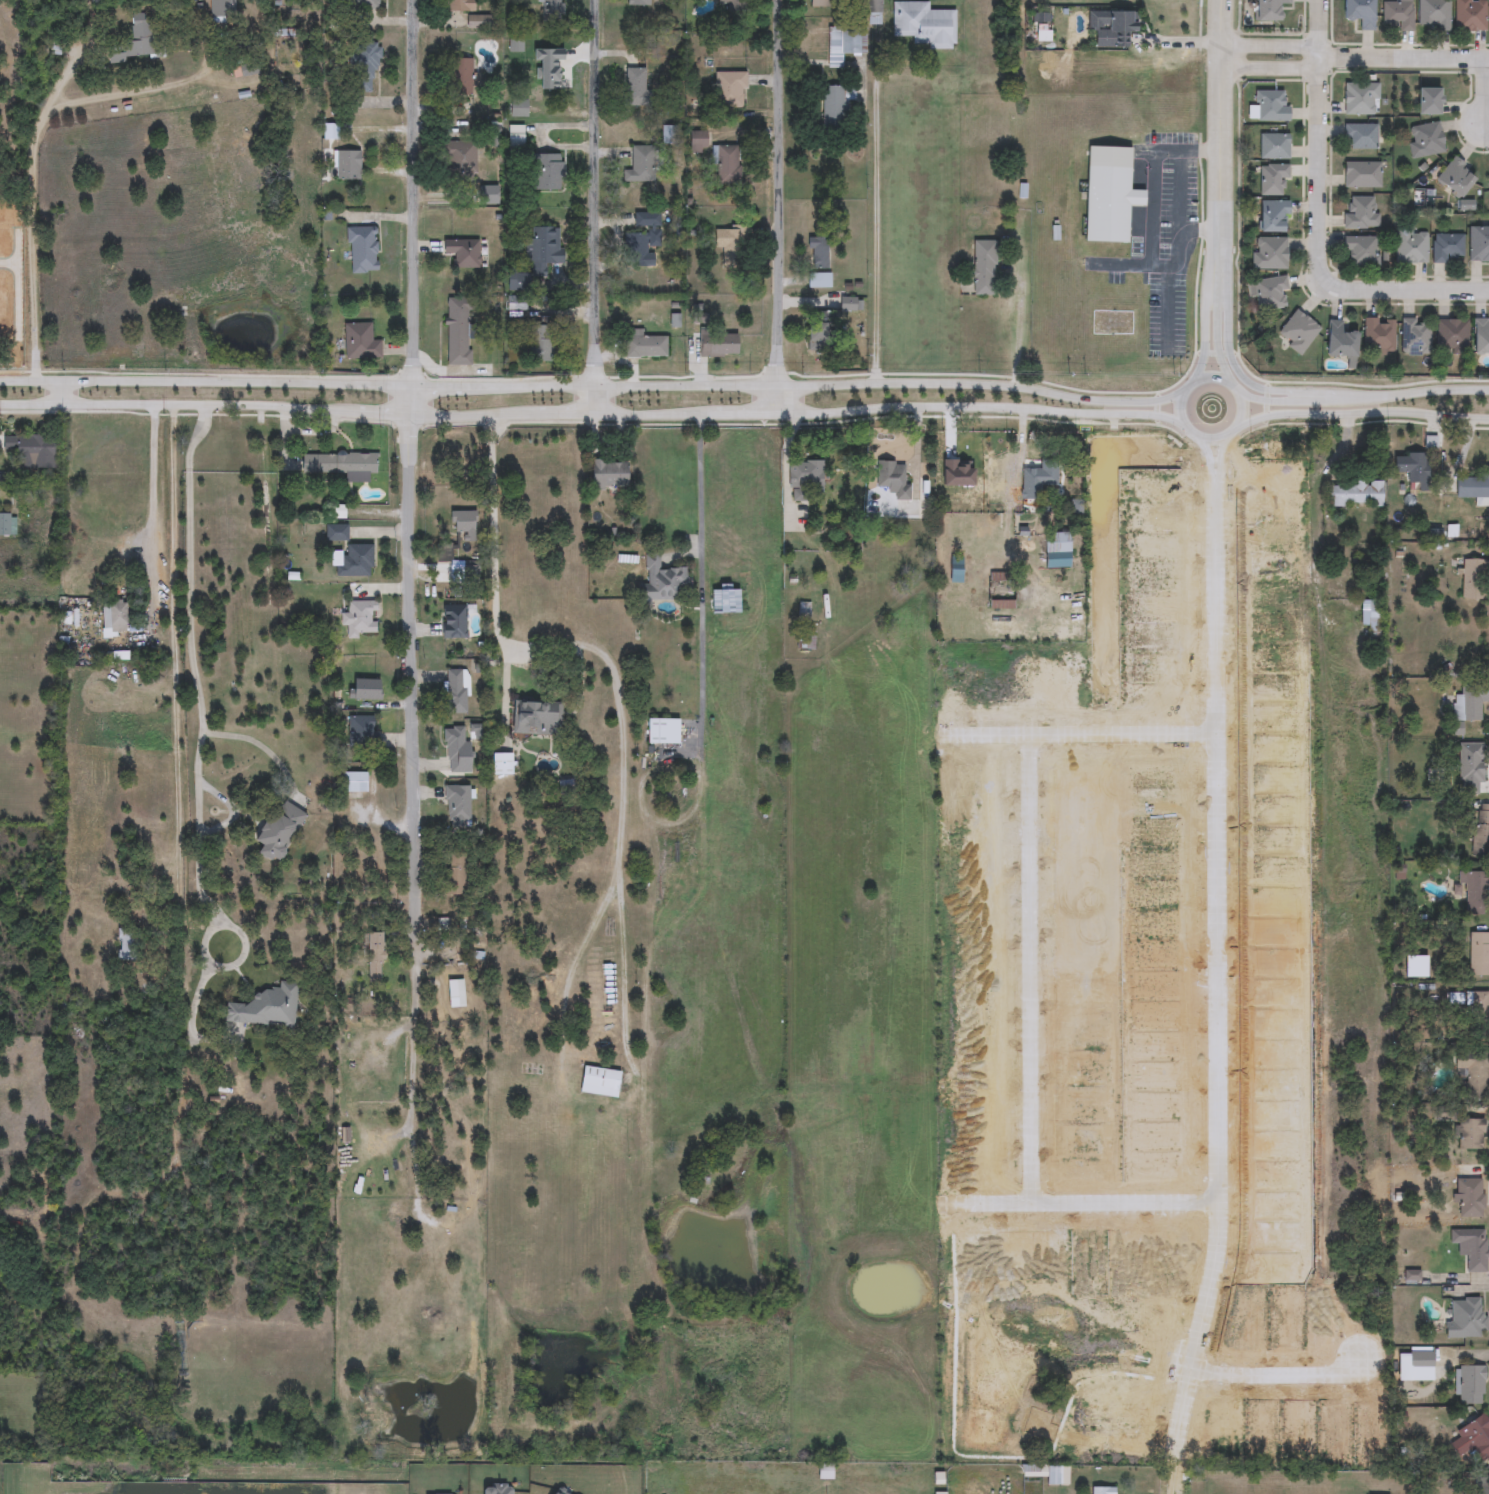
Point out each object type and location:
building: (636, 2)
building: (820, 3)
building: (362, 4)
building: (458, 5)
building: (736, 5)
building: (873, 5)
building: (1266, 9)
building: (549, 10)
building: (221, 11)
building: (1358, 12)
building: (1397, 13)
building: (1432, 14)
building: (1469, 14)
building: (477, 22)
building: (922, 24)
building: (1116, 29)
road: (1326, 30)
building: (846, 38)
building: (140, 40)
building: (245, 46)
road: (1353, 60)
building: (362, 66)
building: (247, 69)
building: (536, 71)
building: (460, 76)
building: (635, 86)
road: (143, 90)
building: (729, 90)
building: (1359, 98)
building: (1427, 100)
building: (1270, 105)
building: (517, 108)
building: (832, 109)
building: (1359, 136)
building: (515, 138)
building: (1424, 138)
building: (696, 142)
road: (1218, 144)
building: (1273, 145)
building: (459, 157)
building: (640, 164)
building: (728, 164)
building: (346, 165)
building: (548, 172)
building: (1361, 173)
building: (1454, 175)
building: (1487, 175)
road: (1150, 178)
building: (1272, 178)
building: (1108, 193)
road: (595, 206)
road: (413, 207)
road: (779, 207)
road: (875, 209)
road: (36, 210)
building: (1358, 211)
building: (1271, 215)
building: (642, 236)
building: (1478, 243)
building: (1410, 244)
building: (728, 245)
building: (1446, 246)
building: (362, 249)
building: (541, 249)
building: (1359, 250)
building: (461, 251)
building: (817, 252)
building: (1269, 252)
road: (1321, 259)
building: (983, 267)
road: (1163, 267)
building: (818, 280)
building: (1267, 292)
road: (1018, 321)
building: (457, 330)
building: (817, 331)
building: (1296, 331)
building: (1377, 335)
building: (1414, 335)
road: (1206, 336)
building: (1450, 336)
building: (1480, 336)
road: (1217, 339)
building: (1339, 340)
building: (359, 341)
building: (539, 342)
building: (718, 344)
building: (642, 345)
road: (1233, 364)
road: (592, 386)
road: (58, 392)
road: (1395, 396)
road: (1179, 399)
road: (1269, 400)
road: (1359, 413)
road: (592, 414)
building: (35, 448)
road: (915, 455)
road: (1219, 463)
road: (1211, 464)
building: (341, 465)
building: (1412, 468)
building: (610, 474)
building: (805, 479)
building: (893, 479)
building: (1036, 481)
building: (1466, 487)
building: (1356, 494)
road: (153, 514)
building: (464, 524)
building: (8, 525)
building: (335, 533)
building: (1057, 551)
building: (444, 554)
building: (356, 562)
building: (956, 576)
road: (701, 580)
building: (1475, 580)
building: (662, 582)
building: (1001, 592)
building: (1371, 614)
building: (804, 616)
building: (114, 618)
building: (362, 619)
building: (454, 621)
building: (807, 641)
road: (190, 665)
road: (607, 673)
road: (415, 684)
building: (366, 690)
building: (457, 692)
building: (1469, 704)
building: (536, 719)
building: (363, 732)
building: (663, 732)
road: (1081, 737)
road: (265, 749)
building: (455, 750)
road: (173, 760)
building: (502, 765)
building: (1470, 769)
building: (354, 783)
building: (458, 805)
road: (234, 810)
building: (277, 831)
building: (1480, 833)
building: (456, 874)
building: (1475, 893)
building: (127, 944)
building: (1475, 955)
building: (374, 959)
road: (210, 964)
road: (1031, 971)
road: (1217, 985)
road: (620, 986)
road: (199, 990)
building: (456, 994)
building: (265, 1008)
building: (1479, 1013)
building: (1472, 1074)
road: (406, 1077)
building: (599, 1082)
building: (1471, 1135)
building: (1470, 1199)
road: (1084, 1203)
building: (1471, 1249)
building: (1466, 1318)
building: (1415, 1366)
road: (1275, 1374)
building: (1472, 1385)
building: (1472, 1441)
building: (825, 1471)
building: (1028, 1473)
road: (1176, 1485)
building: (1482, 1486)
building: (1103, 1491)

